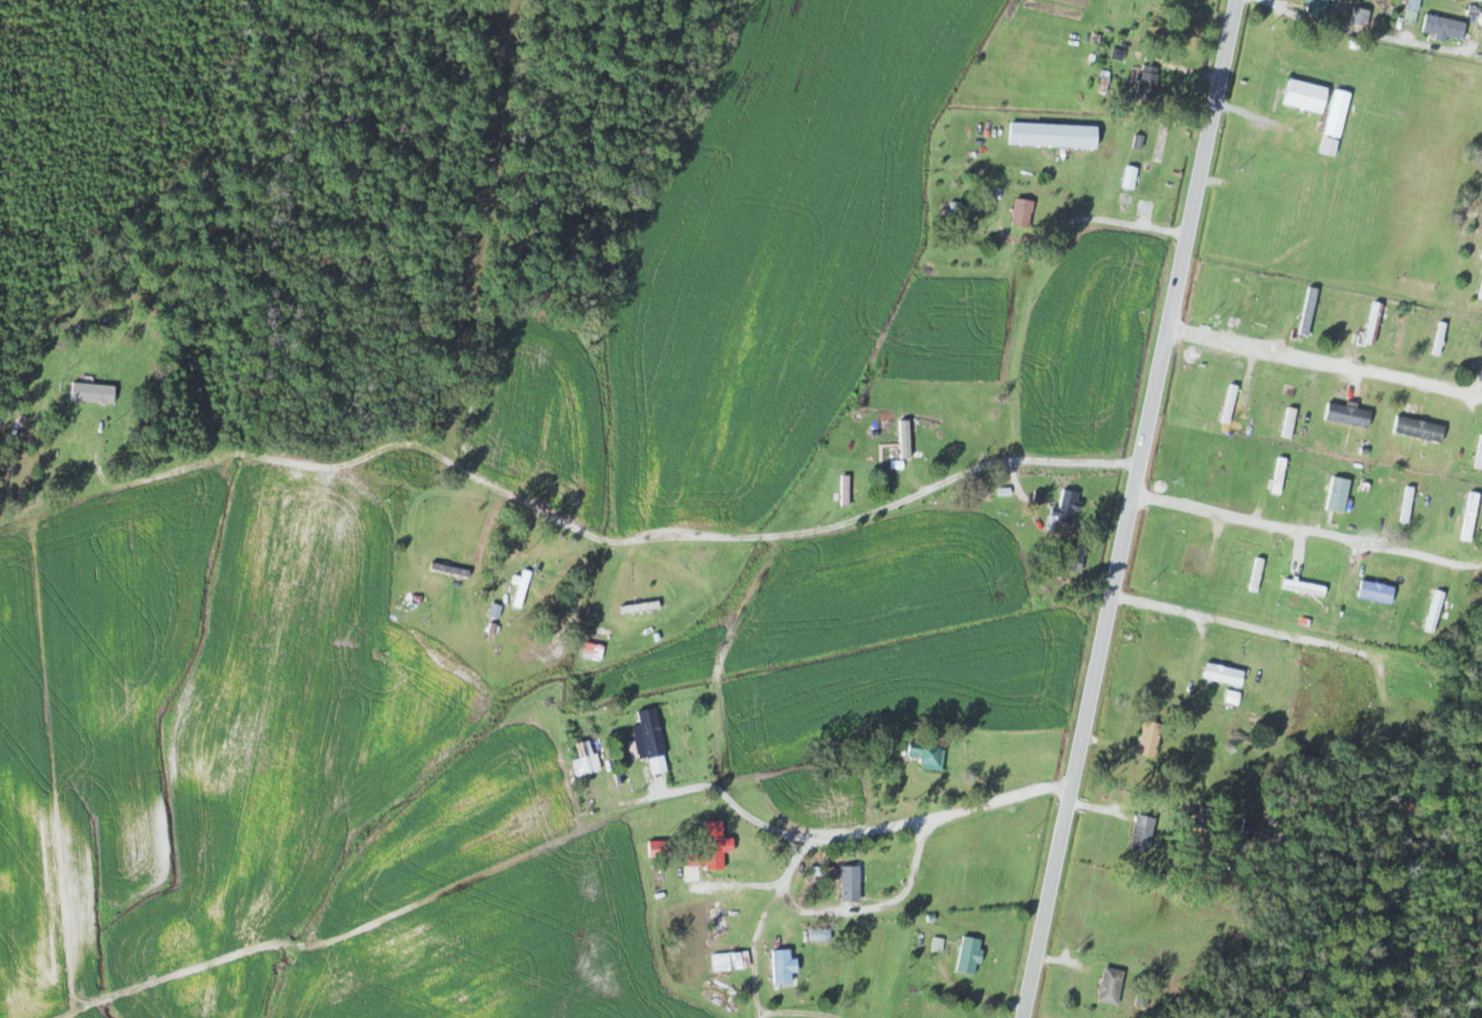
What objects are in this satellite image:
building: (1319, 8)
building: (1414, 12)
building: (1361, 17)
building: (1445, 28)
building: (1477, 37)
road: (1355, 41)
building: (1149, 84)
building: (1307, 96)
building: (1054, 135)
building: (1131, 177)
building: (957, 209)
building: (1023, 213)
road: (1078, 221)
building: (1481, 294)
building: (1249, 298)
building: (1310, 311)
building: (1376, 322)
road: (1323, 363)
building: (94, 394)
building: (1230, 407)
building: (1349, 416)
building: (1291, 423)
building: (969, 425)
building: (1420, 430)
building: (906, 443)
building: (1480, 457)
building: (1215, 465)
building: (1281, 476)
building: (1340, 495)
building: (1068, 509)
road: (1127, 509)
building: (1472, 517)
road: (1306, 528)
road: (594, 535)
building: (1077, 558)
building: (1195, 562)
building: (1258, 575)
building: (1306, 587)
building: (1378, 592)
building: (520, 593)
building: (641, 607)
building: (1436, 611)
road: (1256, 625)
building: (1217, 673)
building: (1404, 709)
building: (1151, 739)
building: (654, 740)
building: (929, 755)
building: (587, 758)
road: (747, 820)
building: (1255, 831)
building: (1144, 833)
building: (715, 845)
building: (852, 884)
building: (721, 919)
building: (822, 935)
building: (970, 955)
building: (743, 960)
building: (785, 967)
river: (1444, 974)
building: (1112, 986)
building: (1143, 1000)

